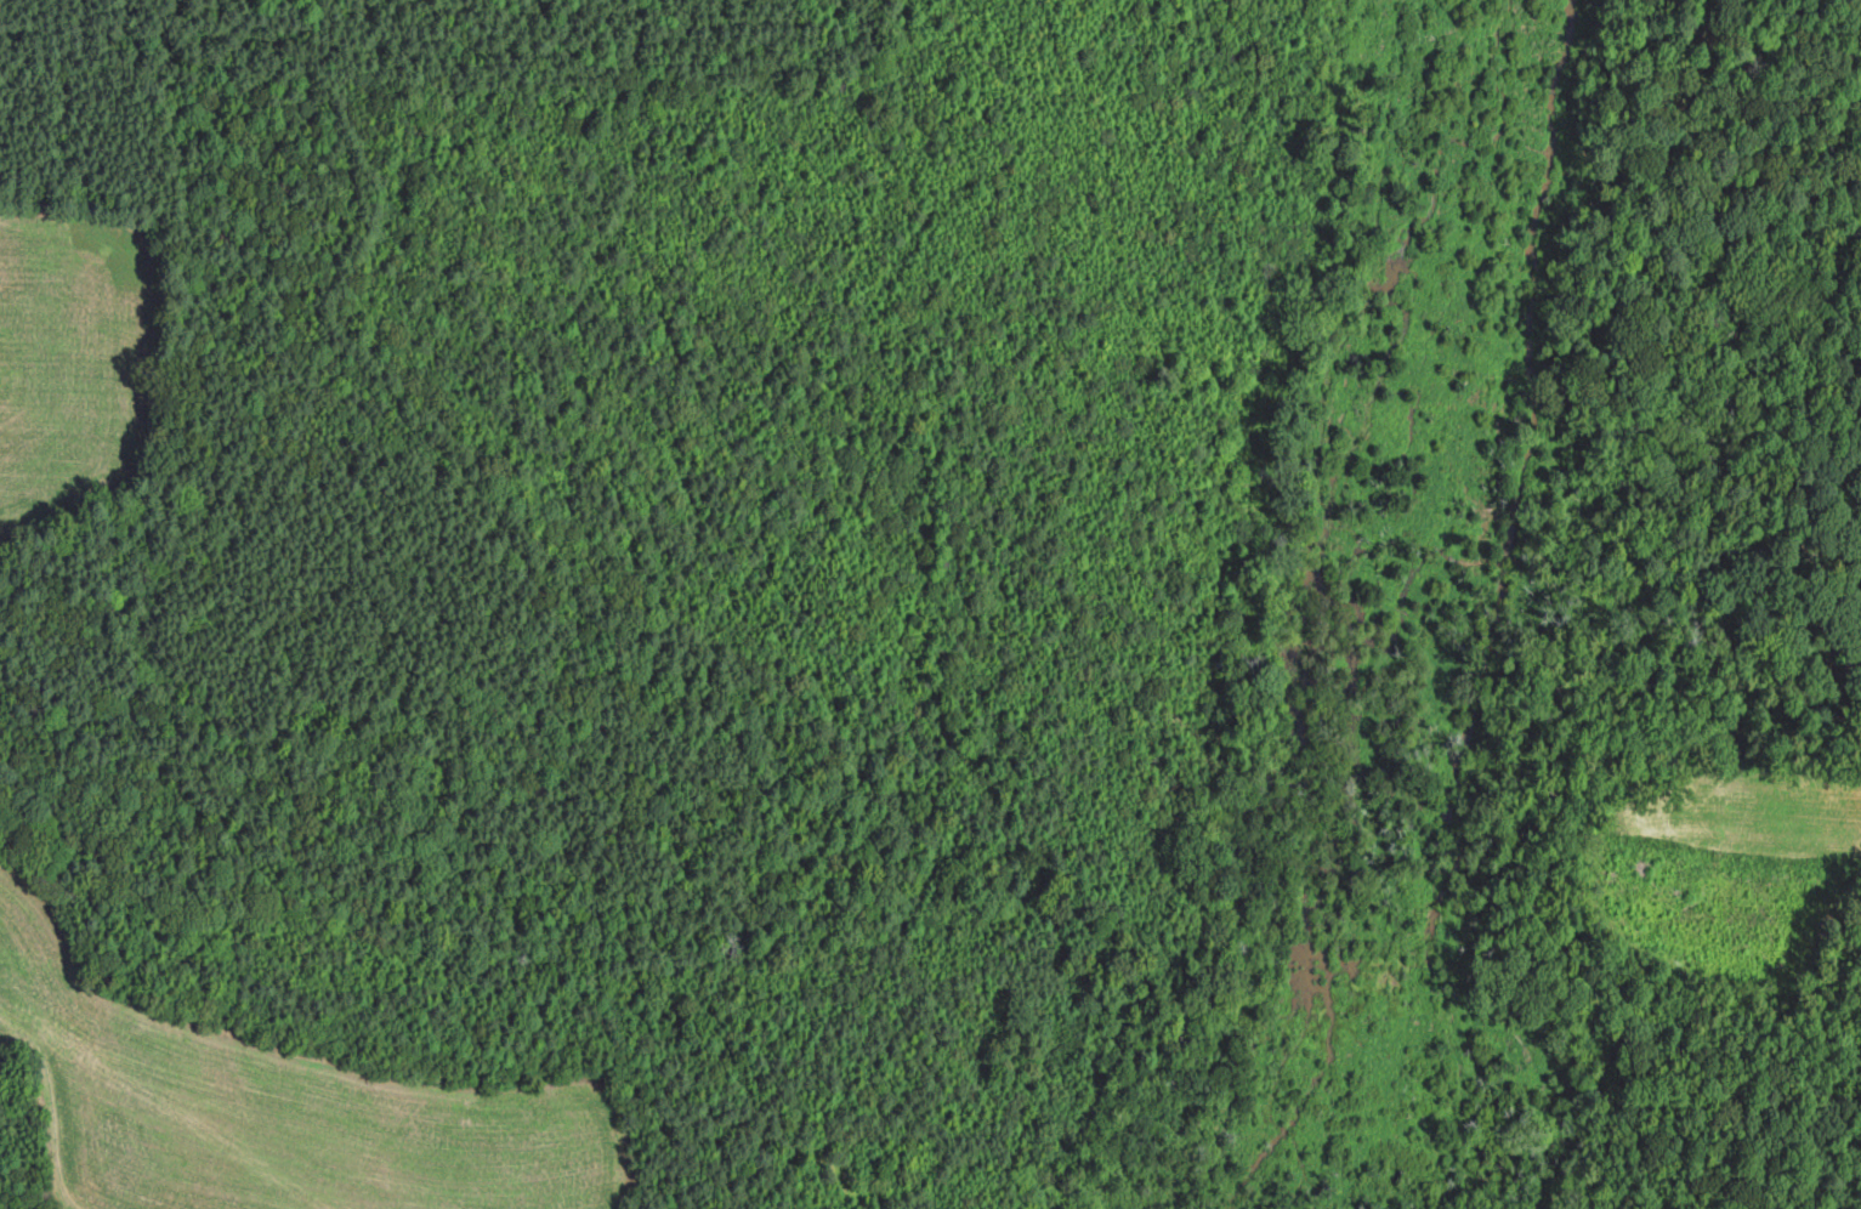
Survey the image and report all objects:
road: (186, 409)

